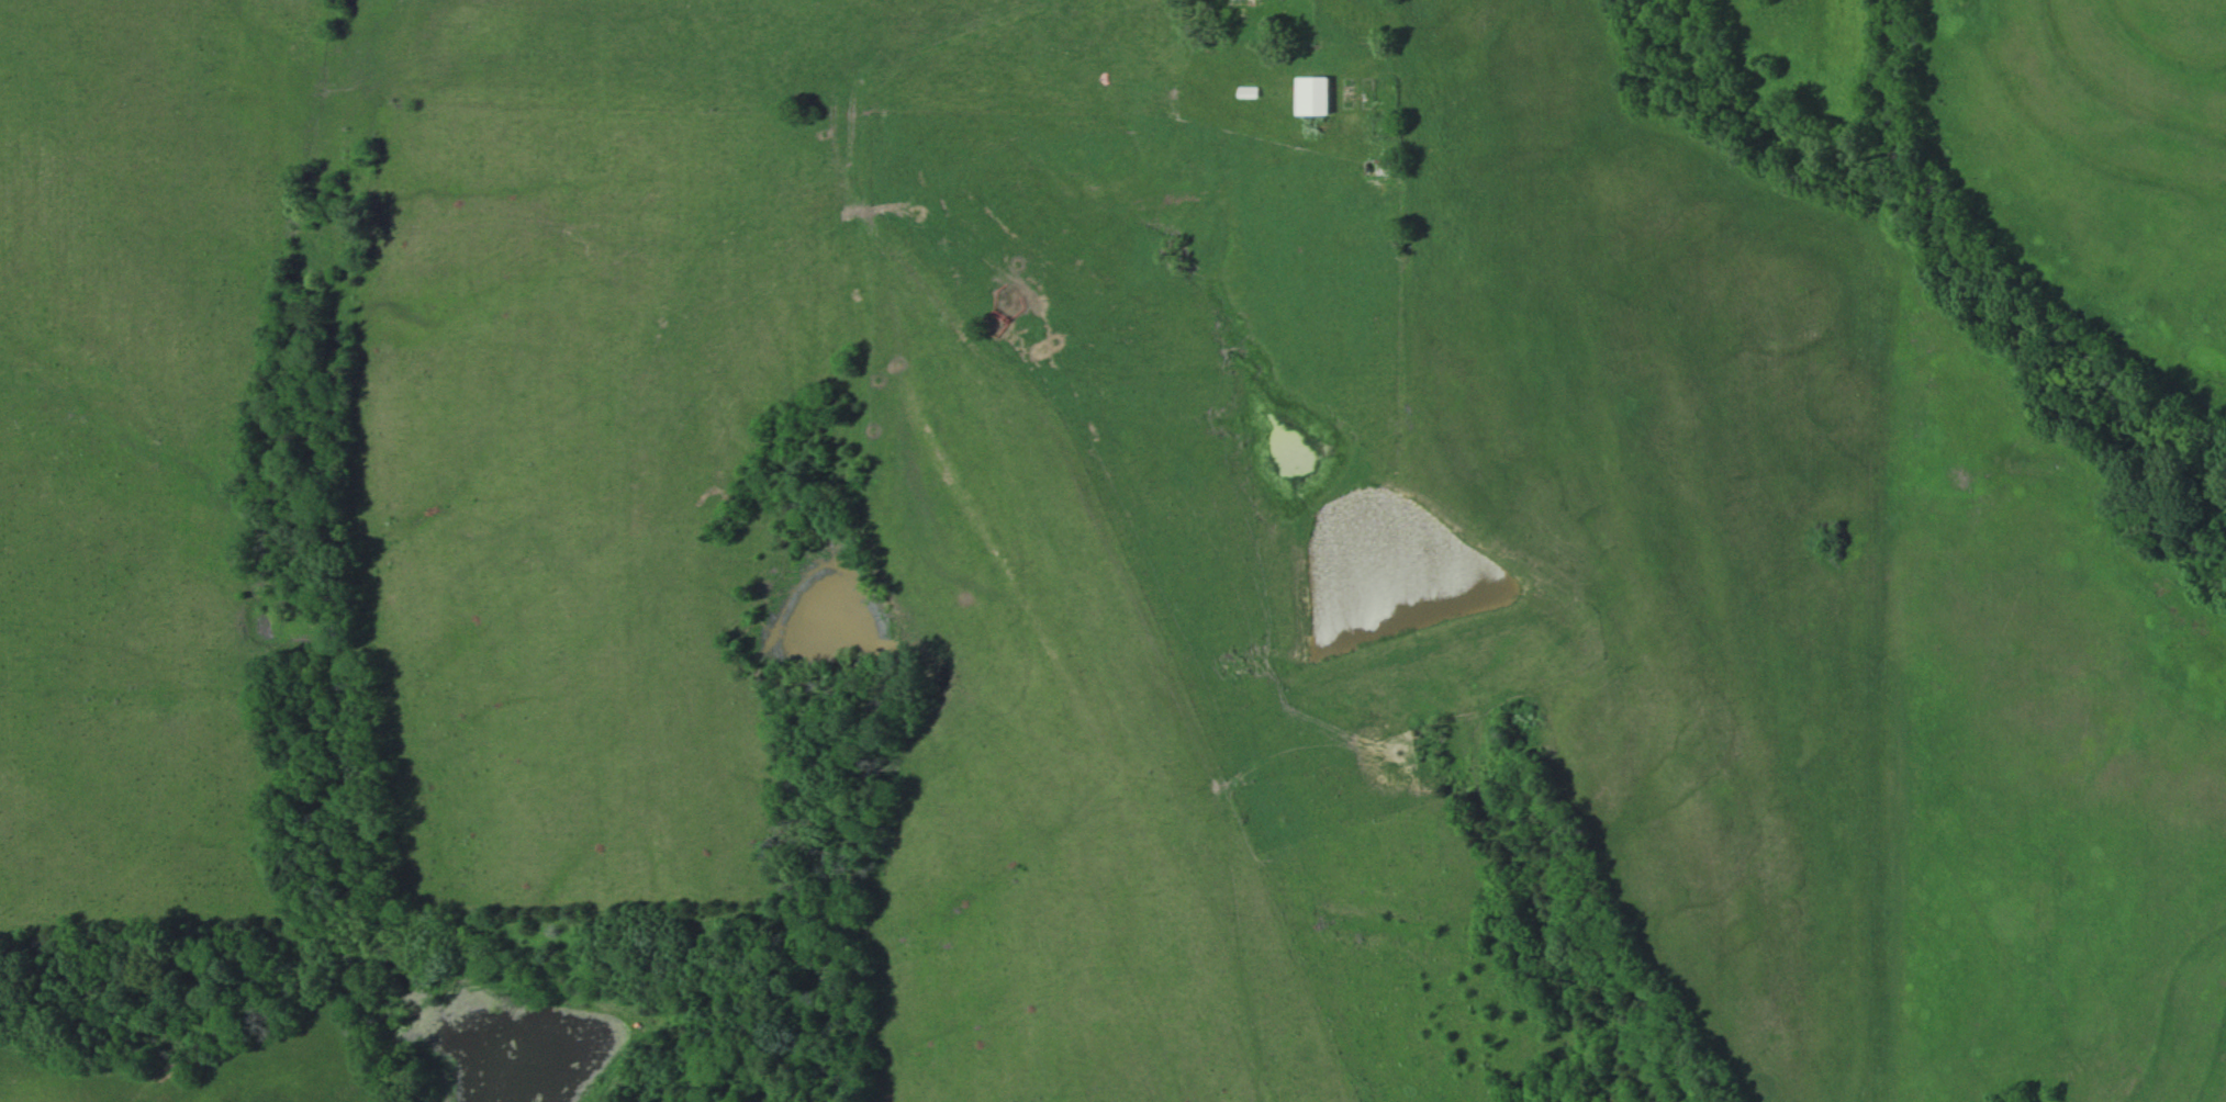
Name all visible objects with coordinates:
building: (1242, 91)
building: (1369, 169)

